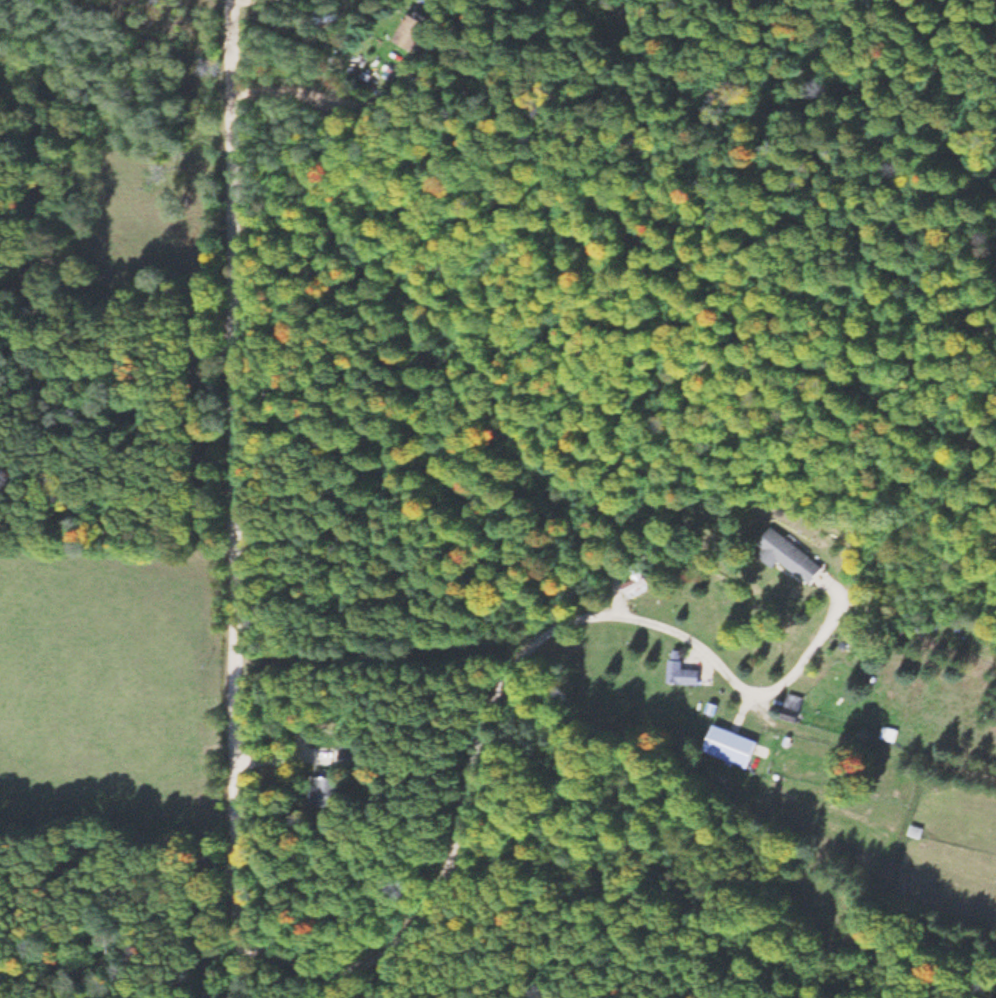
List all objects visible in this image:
building: (415, 33)
road: (239, 498)
road: (288, 522)
building: (788, 558)
building: (676, 673)
building: (730, 749)
building: (329, 794)
road: (460, 863)

